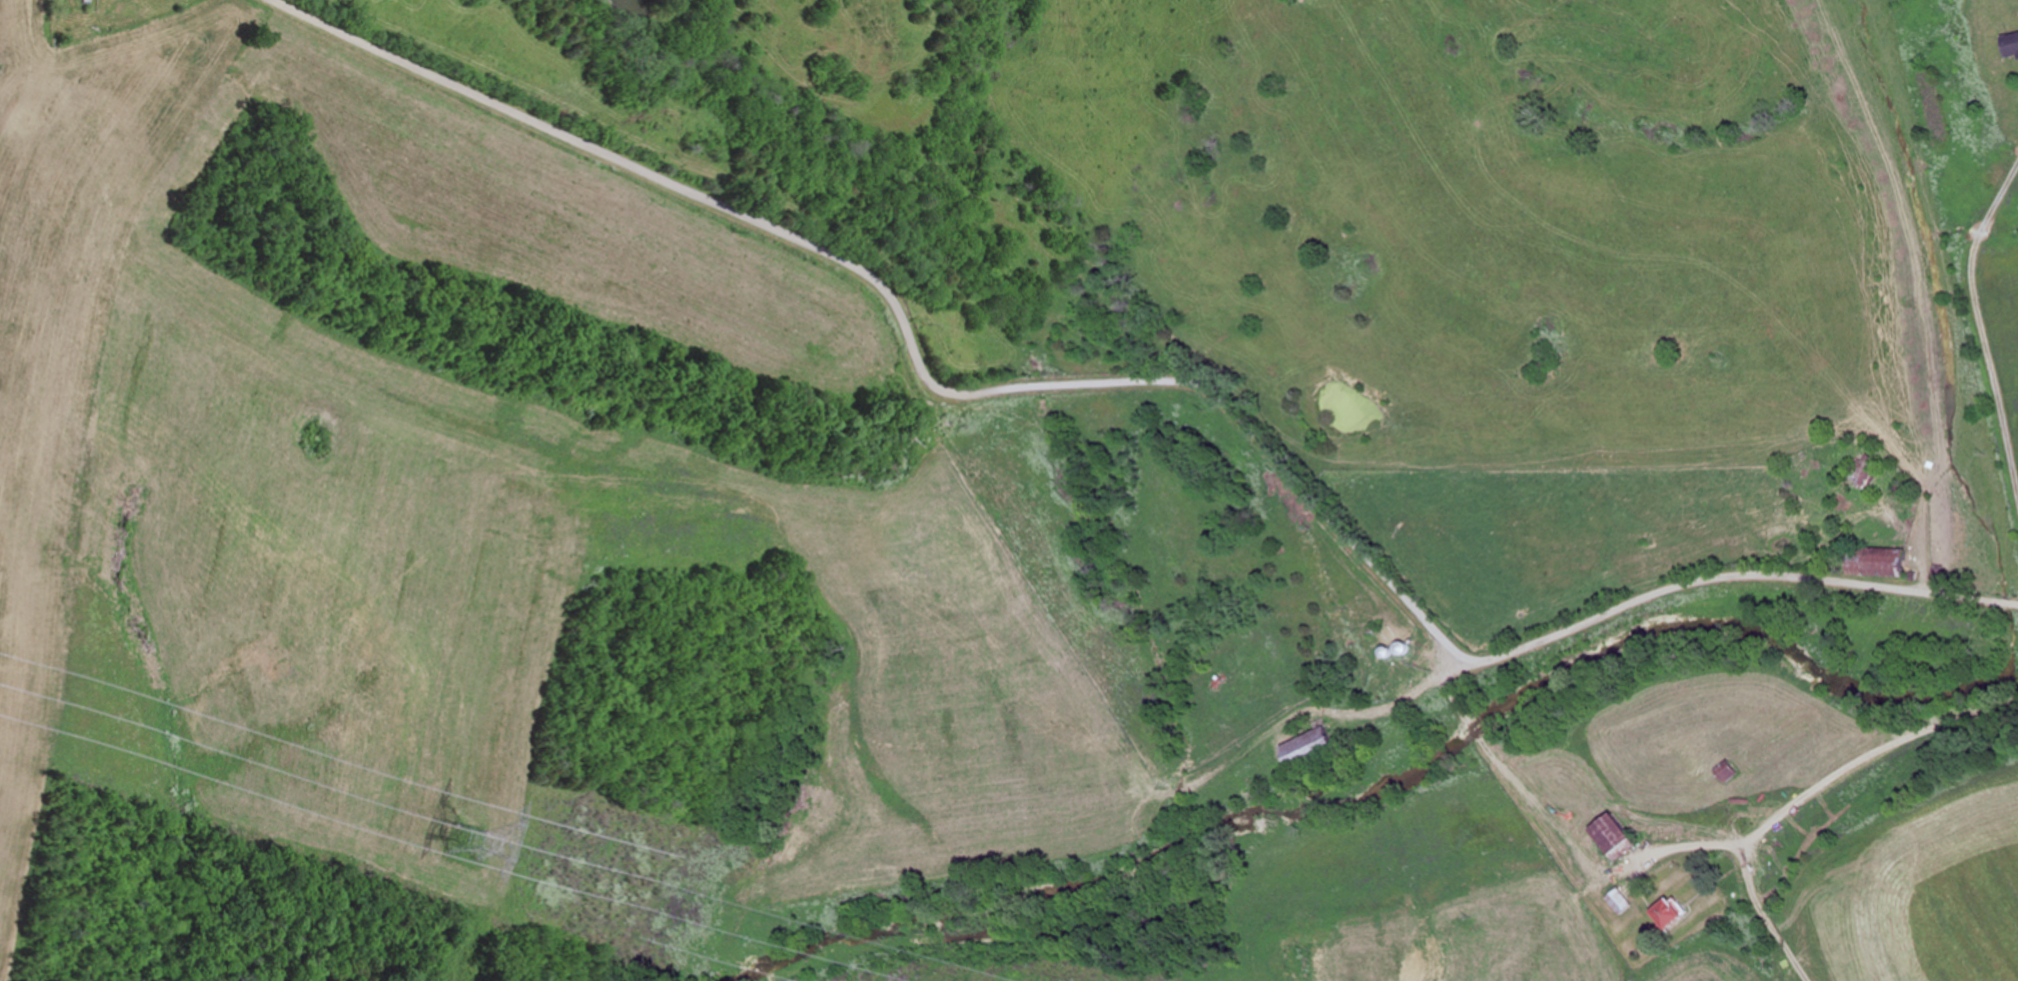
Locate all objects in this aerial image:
building: (2011, 45)
road: (1140, 382)
building: (1864, 475)
building: (1877, 562)
road: (2013, 604)
building: (1410, 650)
building: (1304, 747)
building: (1729, 771)
road: (1845, 819)
building: (1615, 837)
power tower: (490, 845)
building: (1623, 902)
building: (1671, 913)

